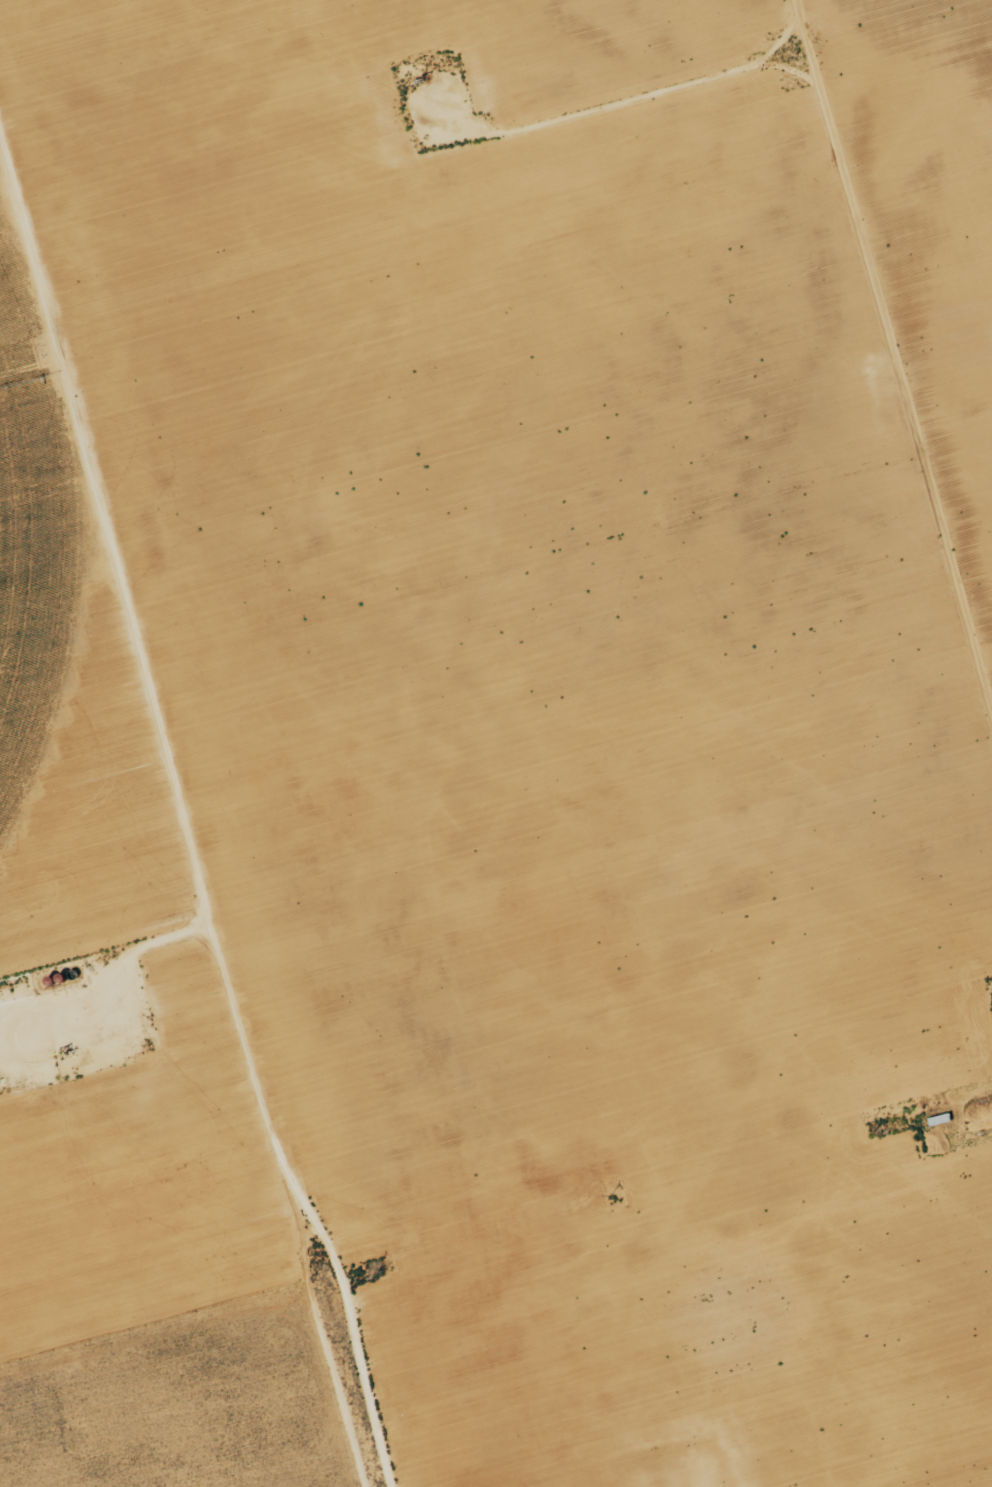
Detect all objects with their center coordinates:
road: (904, 322)

